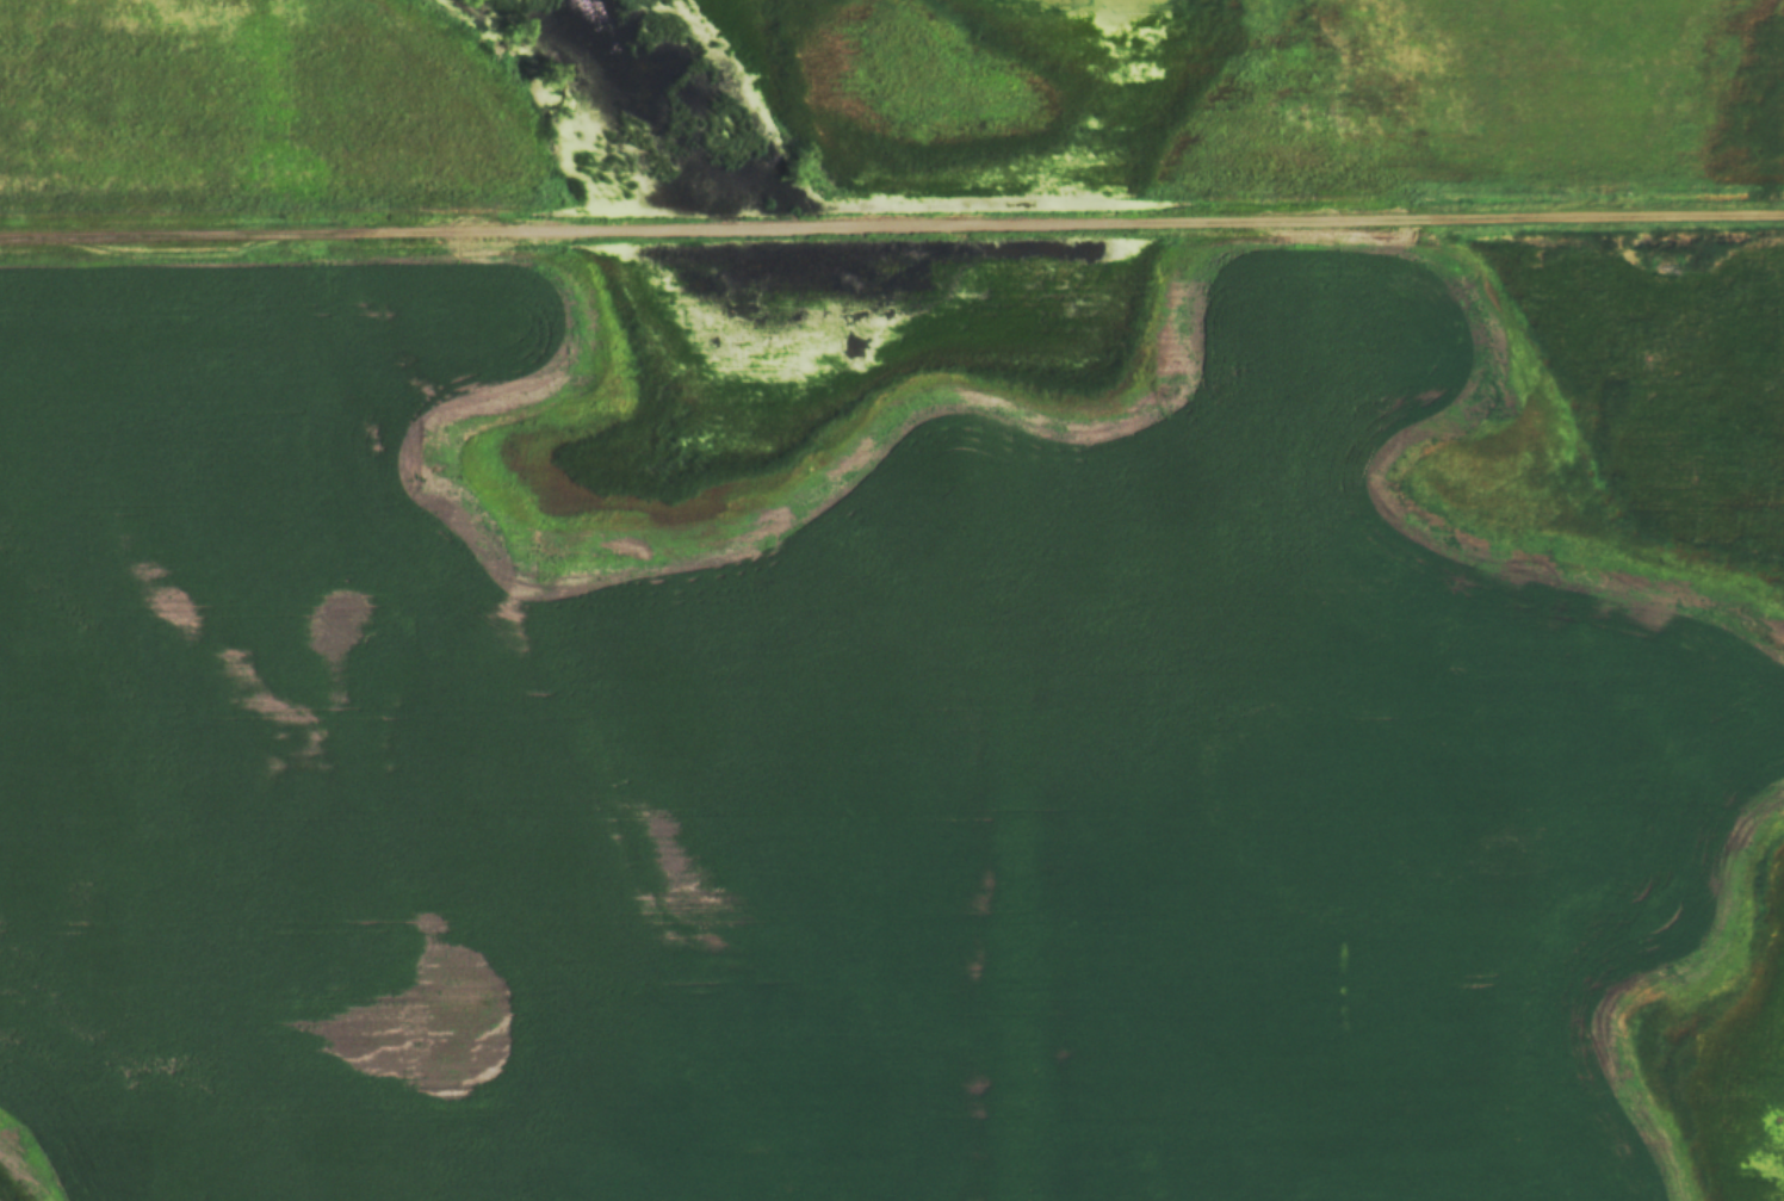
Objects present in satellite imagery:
road: (892, 229)

